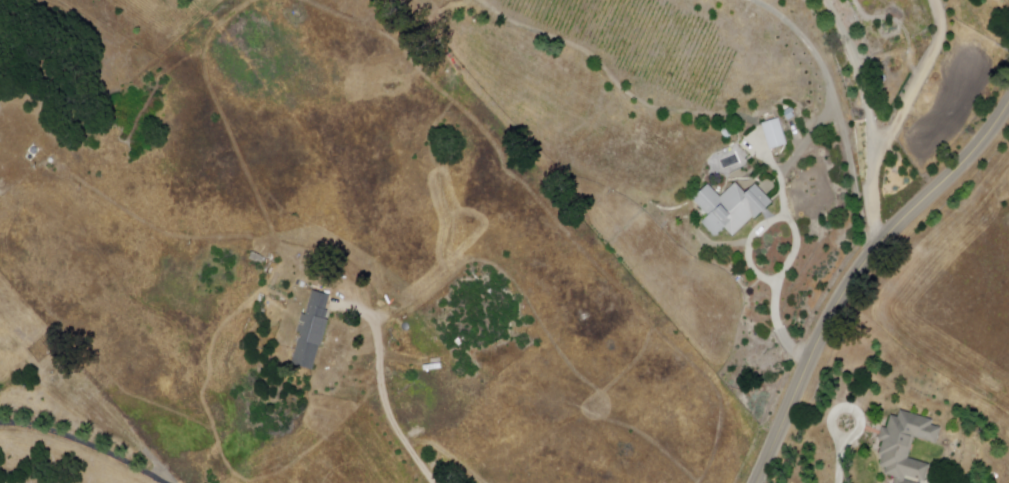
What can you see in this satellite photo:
road: (915, 81)
building: (790, 113)
road: (838, 113)
road: (871, 118)
crop: (935, 131)
building: (728, 132)
building: (774, 134)
road: (794, 155)
road: (769, 160)
building: (731, 210)
road: (796, 243)
road: (854, 276)
building: (310, 332)
road: (383, 389)
road: (831, 422)
building: (906, 445)
road: (81, 447)
road: (840, 459)

